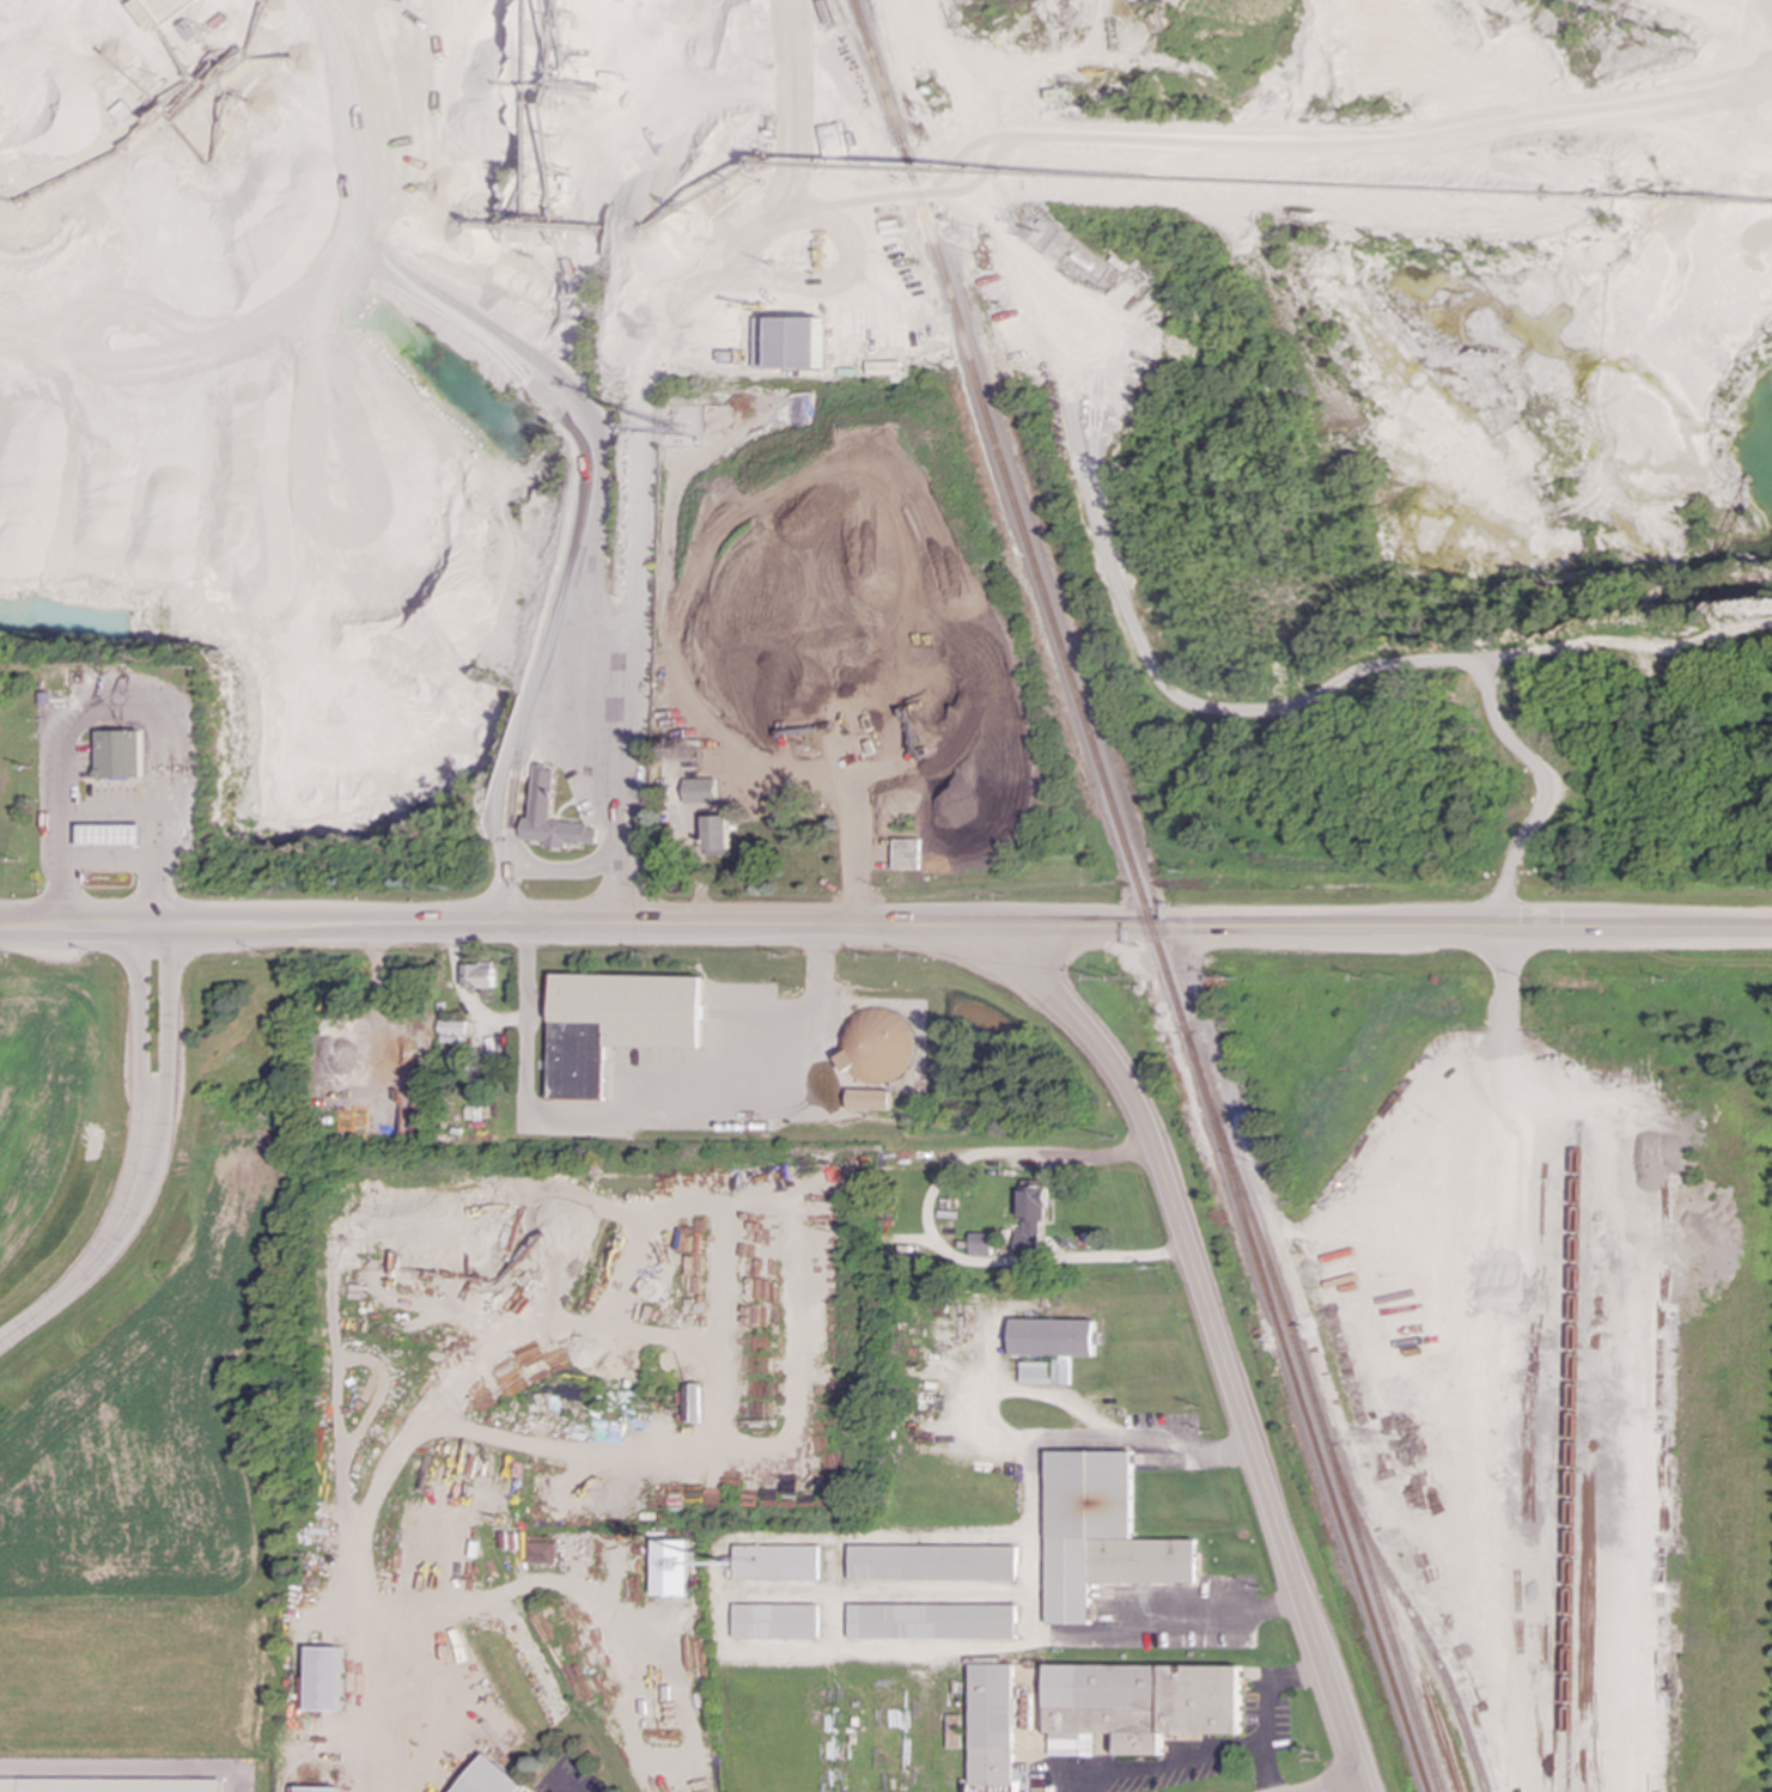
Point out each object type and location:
railway: (869, 66)
building: (790, 343)
railway: (1021, 517)
quarry: (1406, 522)
road: (561, 678)
road: (1289, 706)
building: (121, 754)
road: (67, 768)
building: (700, 791)
building: (542, 792)
building: (112, 835)
building: (718, 835)
building: (908, 853)
road: (853, 854)
road: (109, 861)
road: (62, 867)
road: (555, 868)
road: (610, 873)
road: (501, 874)
road: (497, 925)
road: (1383, 928)
building: (479, 975)
road: (463, 995)
building: (617, 1024)
building: (453, 1028)
road: (140, 1030)
road: (172, 1031)
building: (877, 1046)
building: (870, 1099)
road: (640, 1114)
building: (1031, 1219)
road: (927, 1229)
building: (982, 1244)
road: (99, 1260)
building: (1052, 1337)
road: (1217, 1339)
building: (1035, 1372)
railway: (1319, 1410)
railway: (1307, 1413)
railway: (1571, 1461)
building: (1101, 1535)
building: (542, 1553)
building: (775, 1562)
building: (933, 1562)
road: (1035, 1562)
building: (670, 1567)
railway: (1413, 1616)
building: (775, 1621)
building: (932, 1621)
building: (325, 1678)
road: (1268, 1697)
building: (1138, 1705)
building: (952, 1731)
road: (367, 1750)
road: (1165, 1761)
road: (1261, 1762)
building: (1021, 1778)
building: (491, 1779)
road: (1088, 1782)
road: (565, 1785)
road: (1341, 1787)

